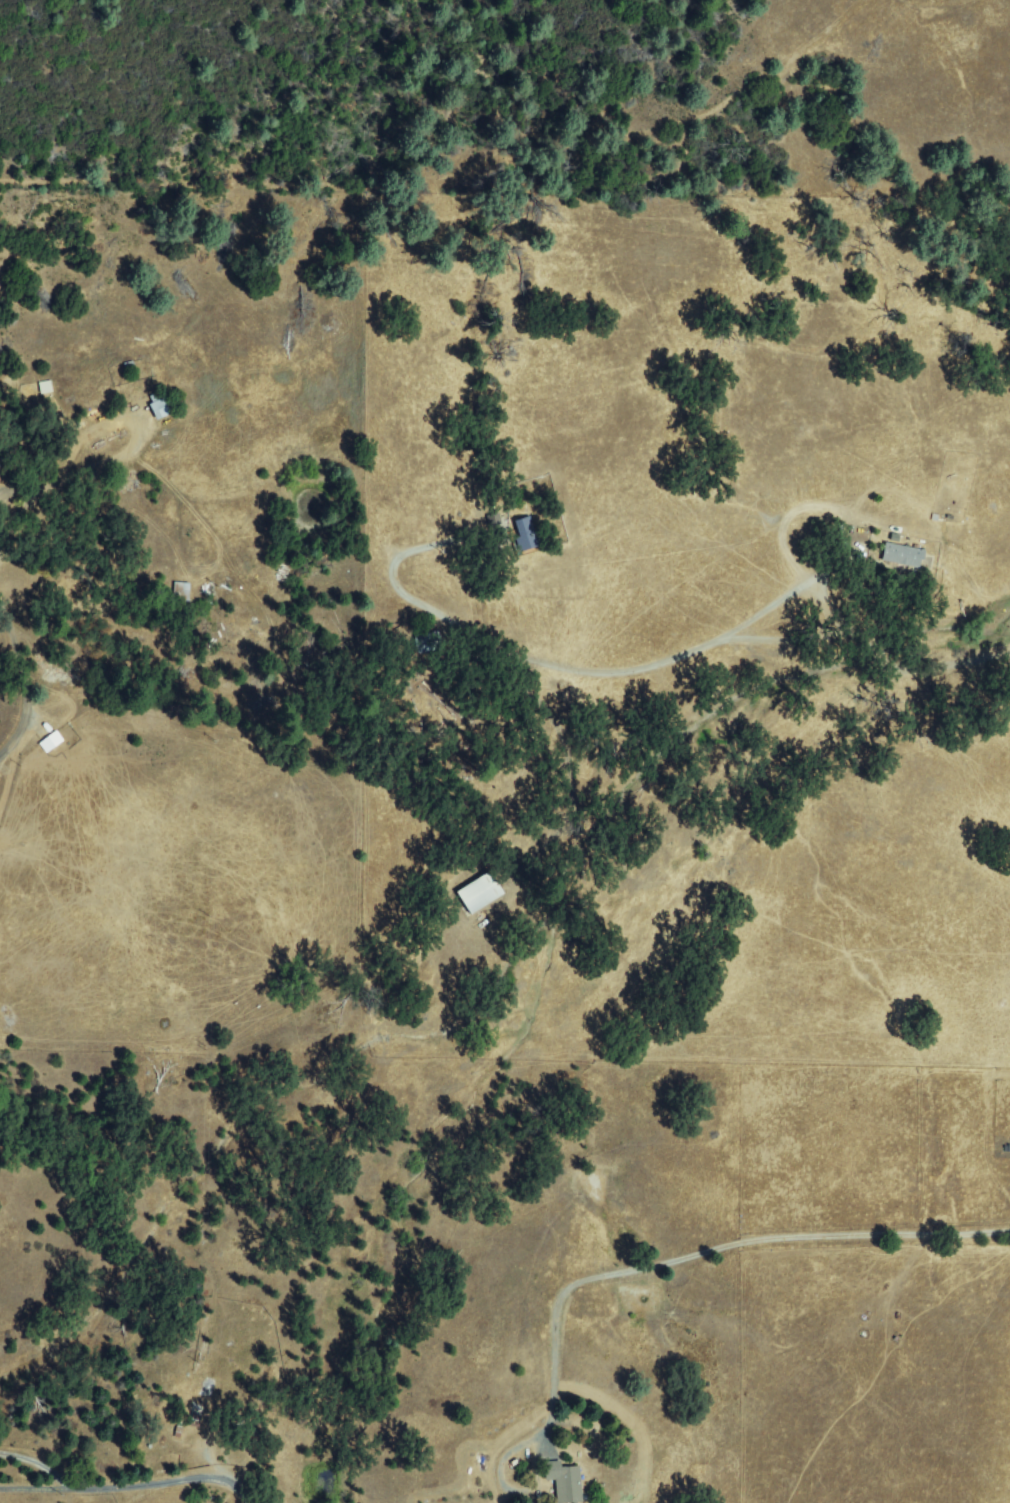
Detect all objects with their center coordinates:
building: (46, 387)
building: (162, 407)
building: (122, 483)
building: (526, 535)
building: (904, 556)
building: (181, 591)
building: (428, 643)
road: (982, 654)
road: (22, 731)
road: (15, 779)
building: (481, 894)
road: (777, 1111)
road: (56, 1177)
road: (56, 1225)
road: (220, 1310)
building: (251, 1433)
building: (565, 1482)
road: (132, 1485)

